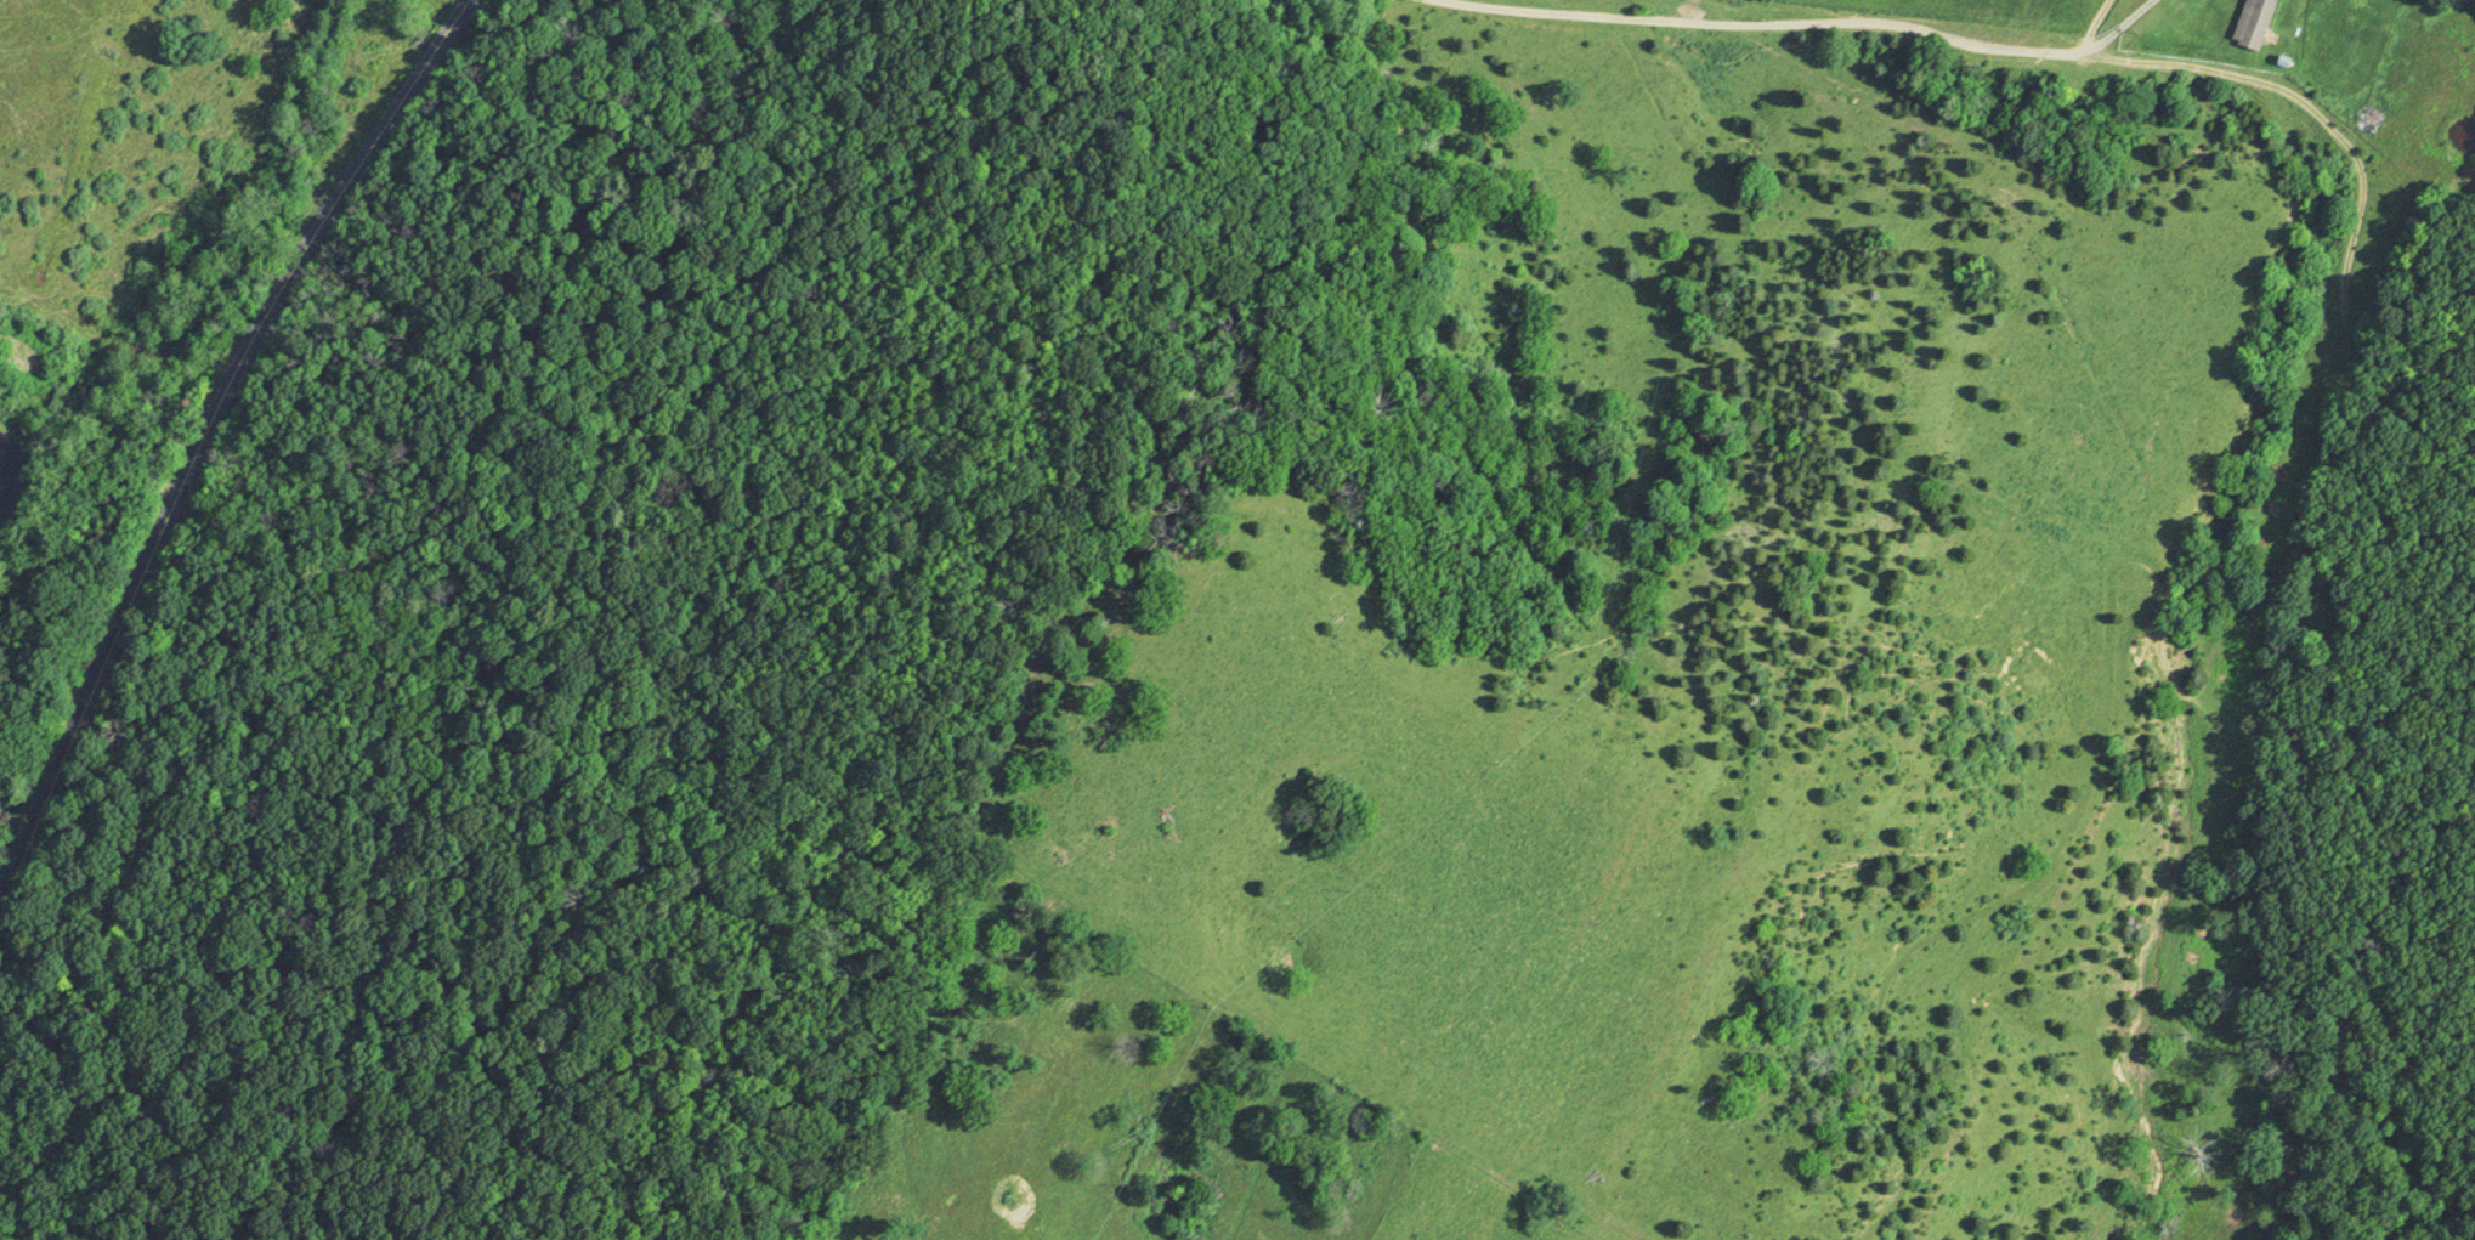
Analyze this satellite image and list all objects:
building: (2253, 22)
road: (1721, 29)
road: (203, 449)

